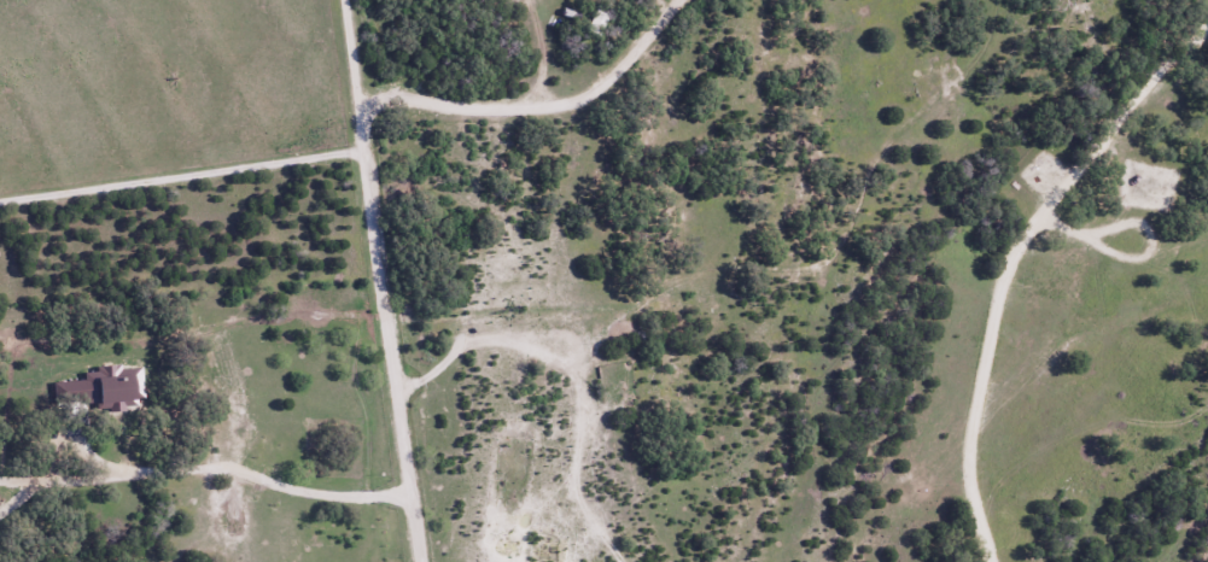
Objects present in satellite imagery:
road: (537, 107)
road: (378, 281)

